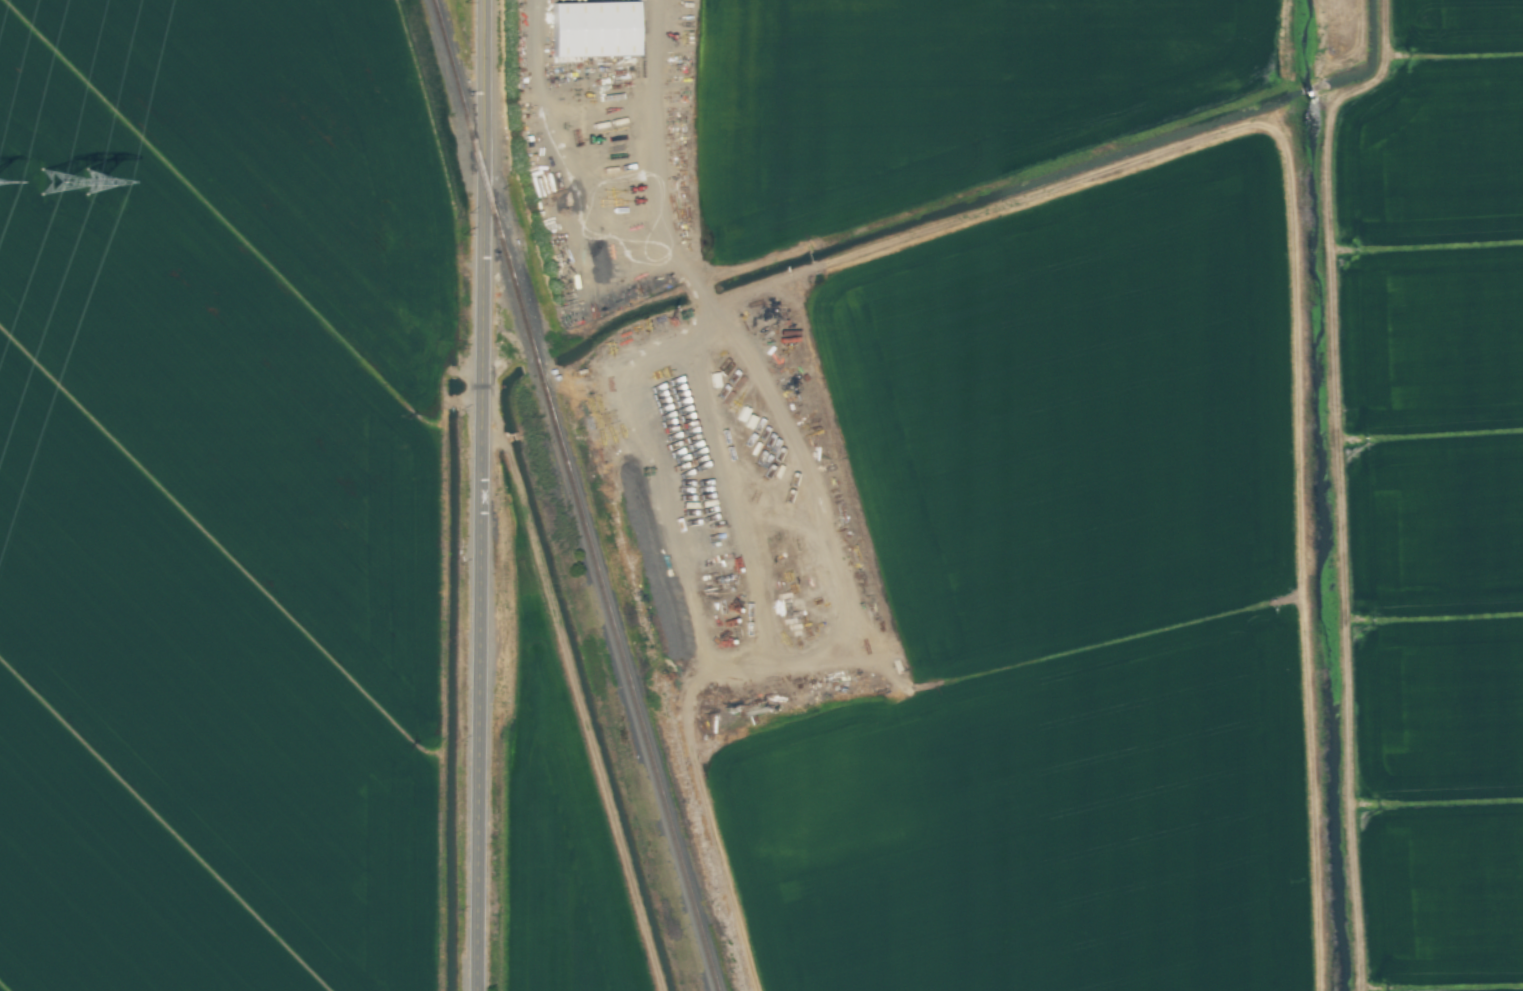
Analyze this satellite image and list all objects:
building: (591, 30)
power tower: (74, 205)
road: (486, 495)
railway: (572, 495)

